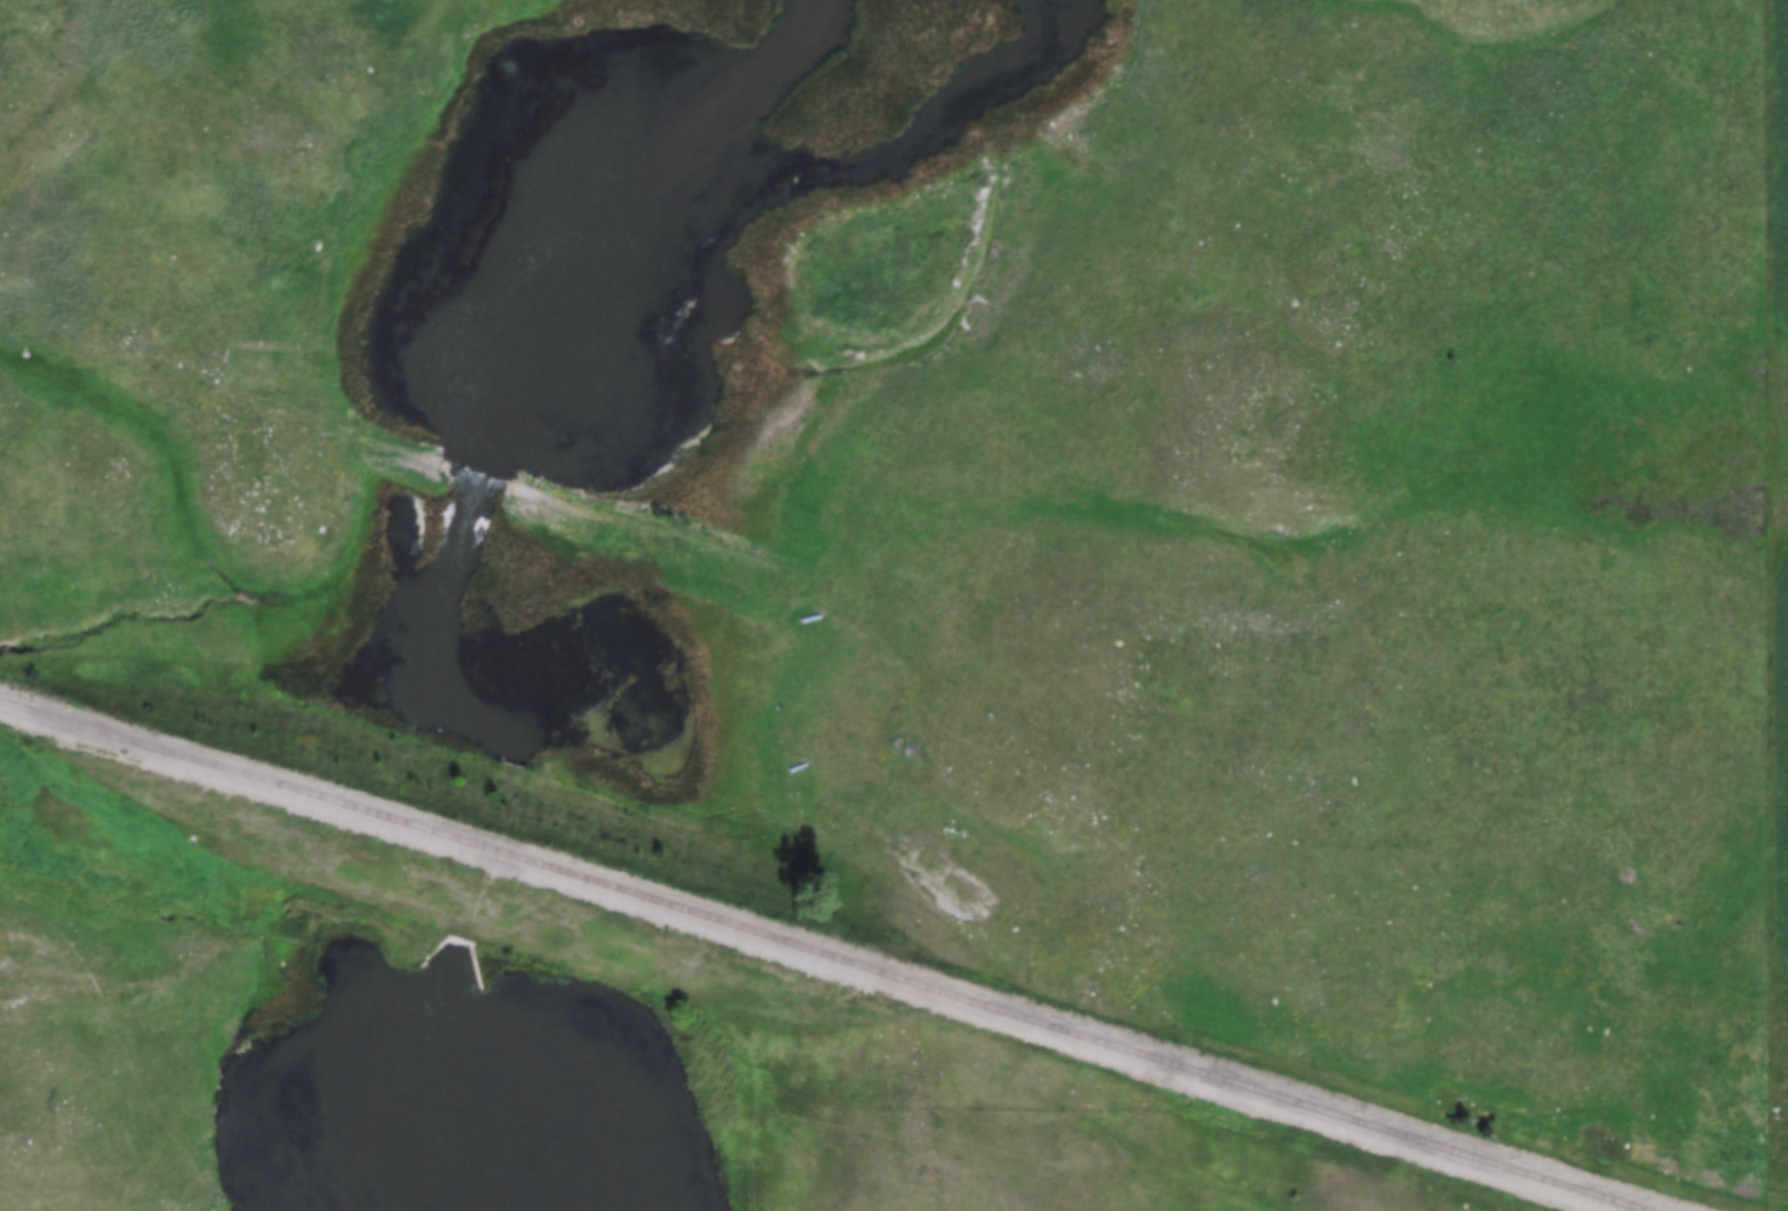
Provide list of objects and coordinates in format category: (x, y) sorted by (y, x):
railway: (815, 953)

